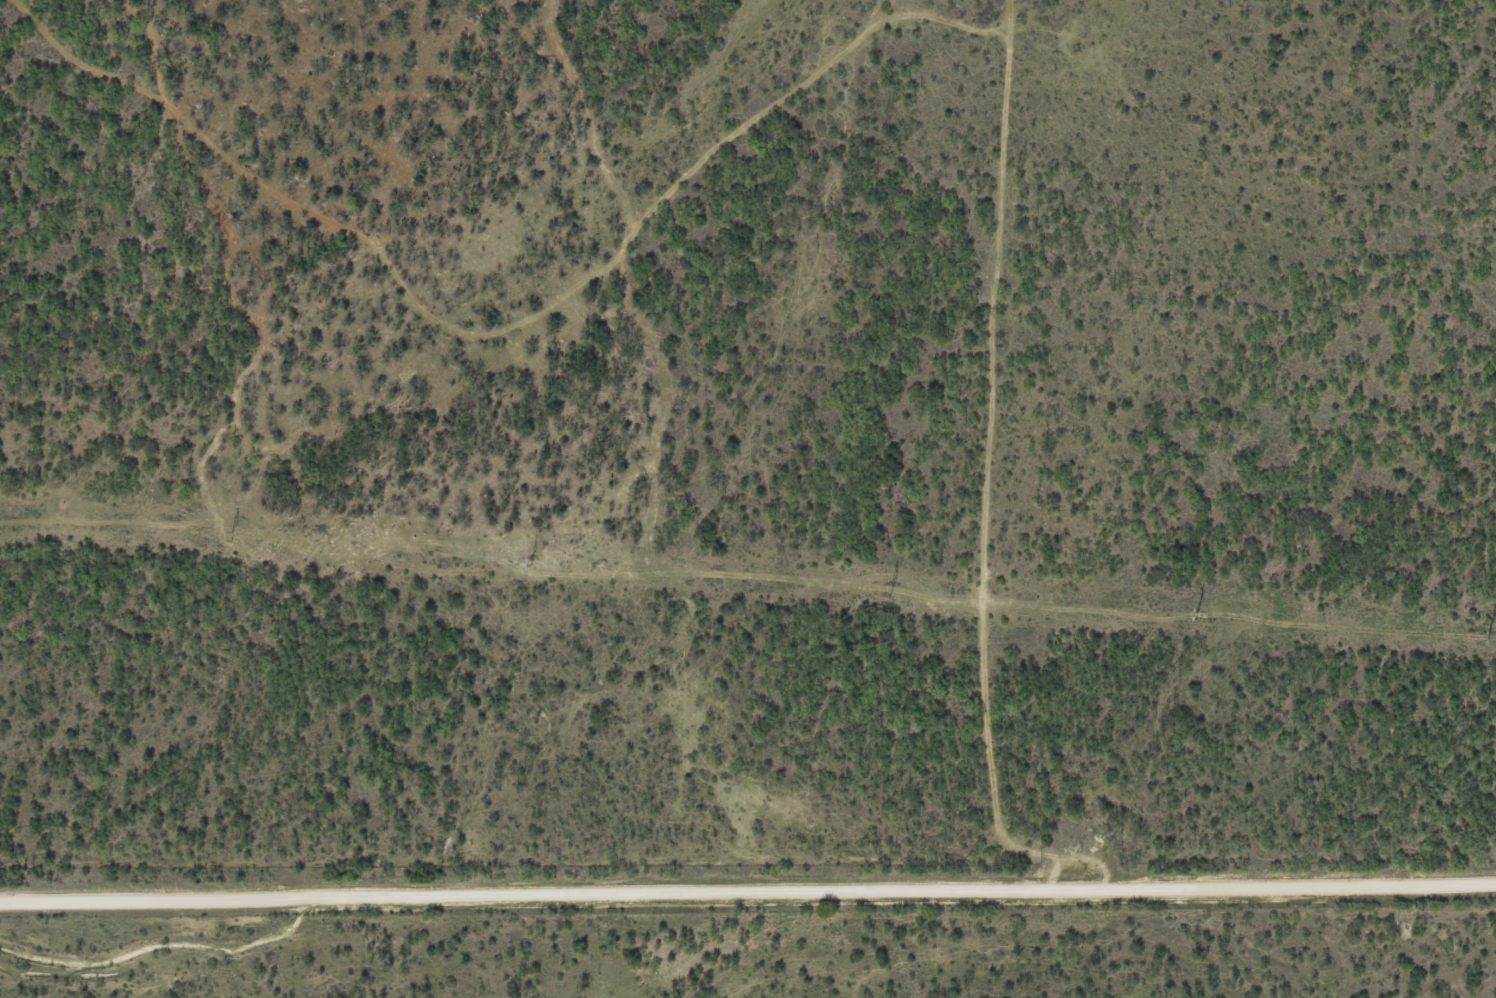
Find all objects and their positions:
power tower: (230, 536)
power tower: (530, 560)
power tower: (890, 590)
power tower: (1196, 614)
power tower: (1486, 637)
road: (747, 897)

